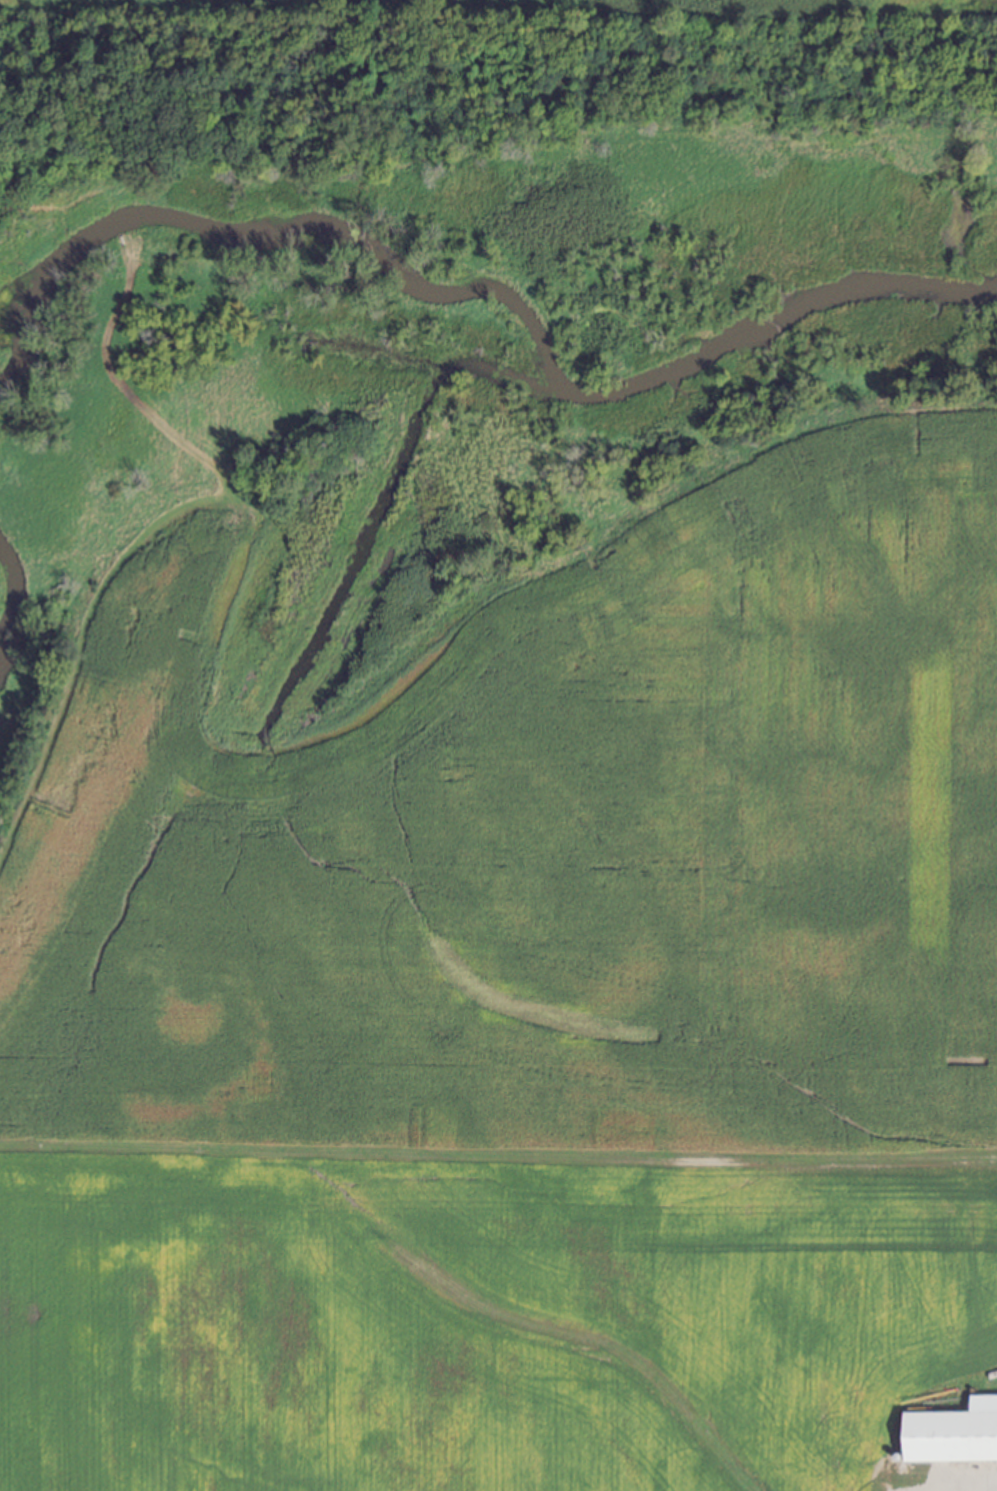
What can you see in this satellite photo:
river: (457, 291)
river: (1, 634)
building: (982, 1401)
building: (948, 1435)

